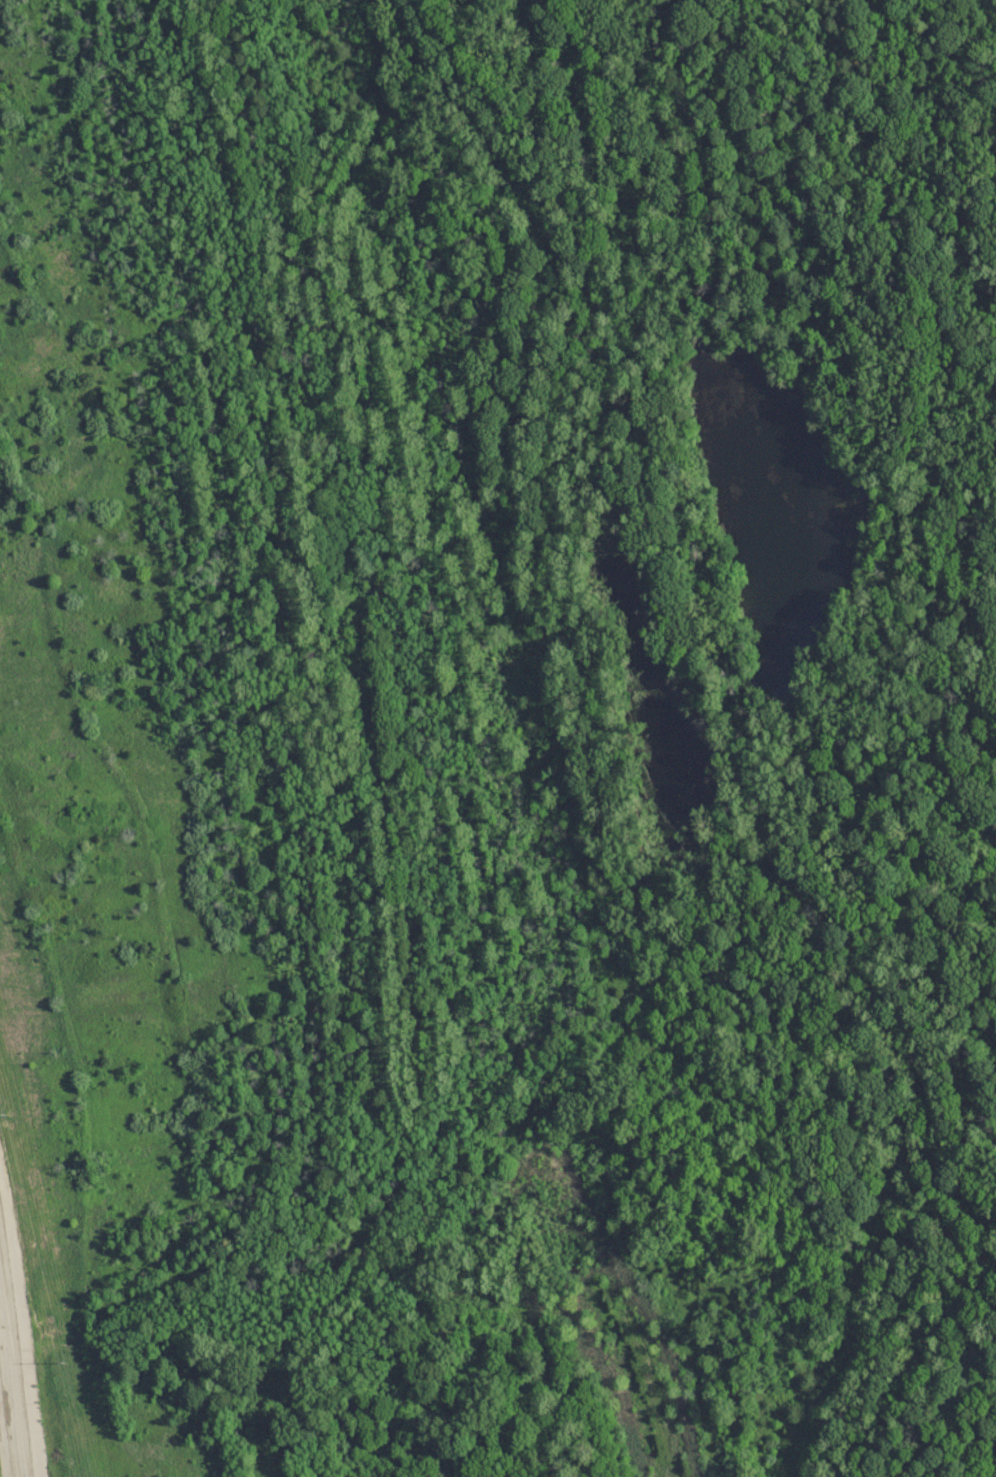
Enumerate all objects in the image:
road: (1, 1464)

